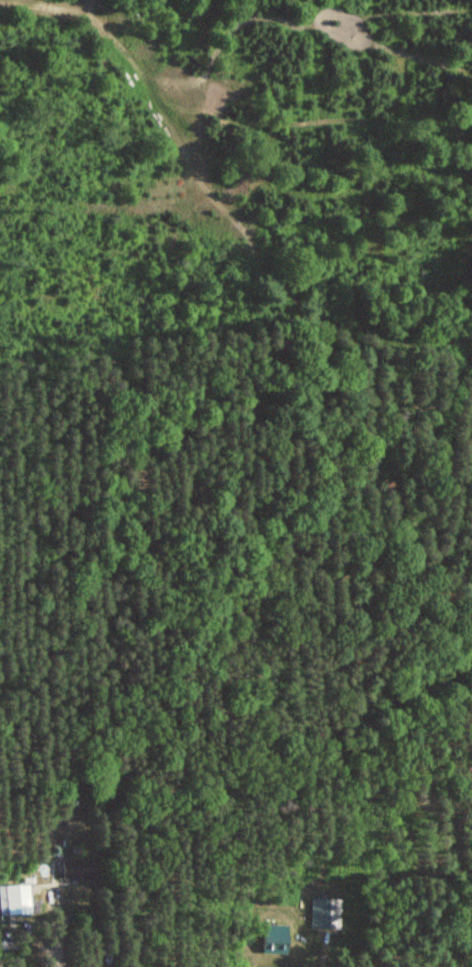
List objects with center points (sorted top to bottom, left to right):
building: (75, 868)
building: (13, 899)
building: (272, 936)

